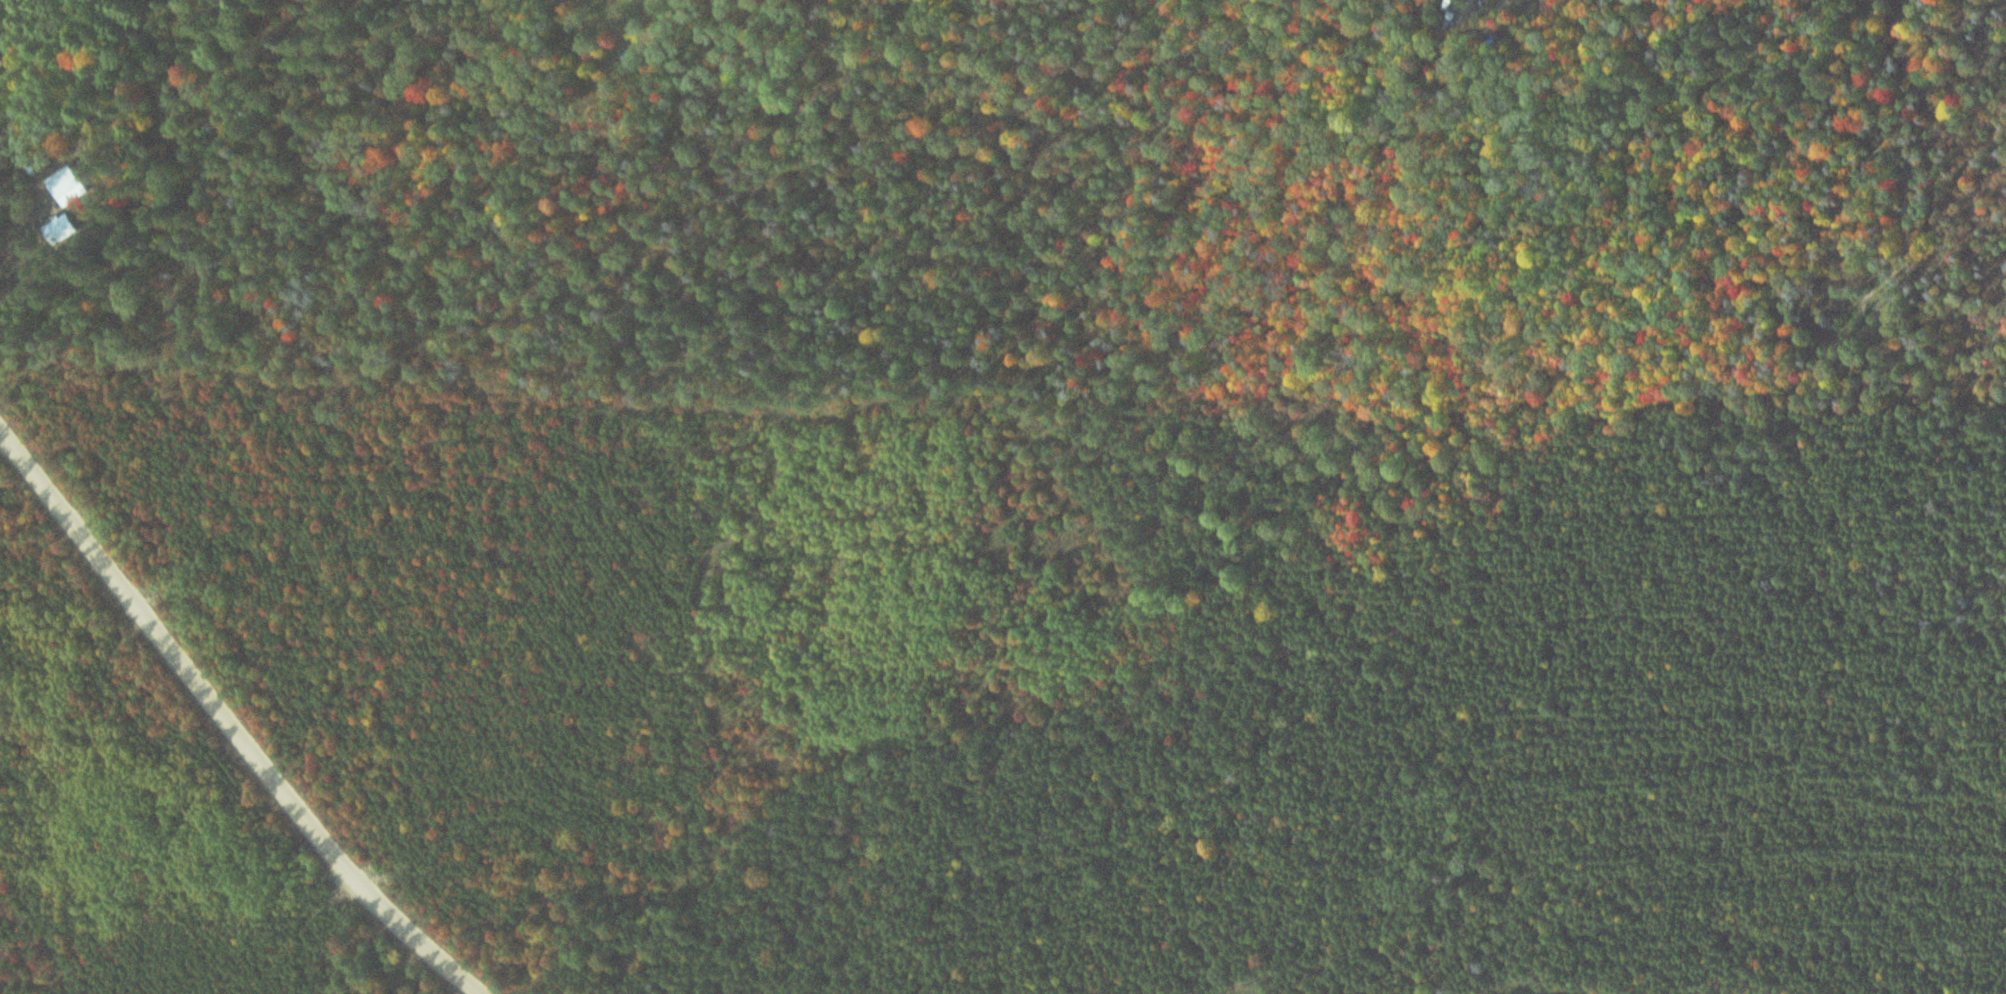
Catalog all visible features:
building: (64, 183)
building: (59, 229)
road: (223, 722)

